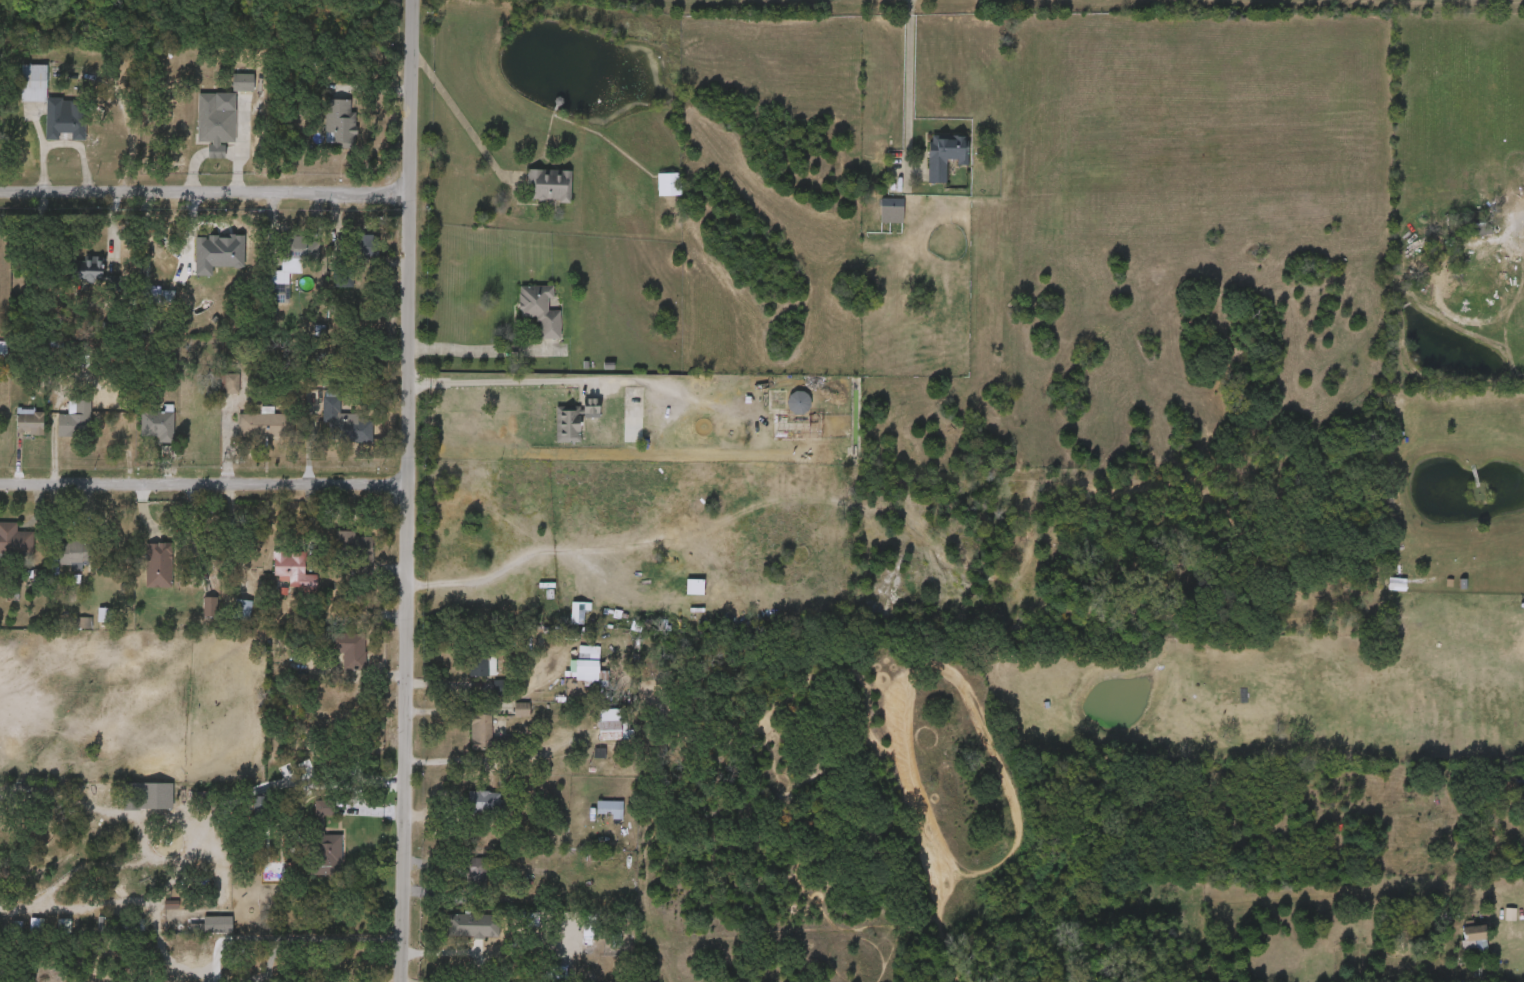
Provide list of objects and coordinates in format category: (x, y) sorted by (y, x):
road: (910, 75)
building: (18, 92)
building: (227, 92)
building: (50, 100)
building: (214, 119)
building: (340, 121)
building: (324, 130)
road: (448, 133)
building: (199, 135)
building: (946, 154)
building: (928, 165)
building: (549, 184)
building: (671, 184)
building: (653, 193)
road: (203, 194)
building: (532, 195)
building: (892, 205)
building: (875, 219)
building: (1465, 238)
building: (364, 245)
building: (295, 249)
building: (205, 252)
building: (351, 254)
building: (280, 257)
building: (88, 269)
building: (73, 278)
building: (278, 285)
building: (167, 295)
building: (540, 308)
building: (525, 319)
road: (475, 349)
road: (494, 383)
building: (213, 394)
building: (637, 403)
building: (782, 412)
building: (75, 418)
building: (576, 419)
building: (29, 421)
building: (344, 422)
building: (158, 423)
building: (264, 423)
building: (802, 427)
building: (558, 428)
building: (59, 429)
building: (15, 431)
building: (330, 432)
building: (141, 434)
building: (248, 435)
road: (204, 486)
road: (408, 491)
building: (15, 537)
building: (73, 551)
building: (8, 552)
building: (357, 556)
building: (341, 559)
building: (59, 565)
building: (293, 567)
building: (143, 574)
building: (278, 581)
building: (242, 607)
building: (194, 615)
building: (227, 618)
building: (563, 621)
building: (351, 649)
building: (334, 658)
building: (484, 661)
building: (590, 662)
building: (572, 673)
building: (463, 675)
building: (503, 718)
building: (615, 730)
building: (595, 733)
building: (490, 735)
building: (465, 740)
building: (1516, 759)
building: (208, 800)
building: (487, 802)
building: (139, 804)
building: (613, 808)
building: (468, 810)
building: (595, 817)
building: (327, 844)
building: (310, 851)
building: (476, 875)
building: (460, 880)
building: (479, 926)
building: (1472, 931)
road: (1517, 932)
building: (198, 933)
building: (565, 933)
building: (456, 934)
road: (289, 936)
building: (1459, 945)
building: (504, 981)

